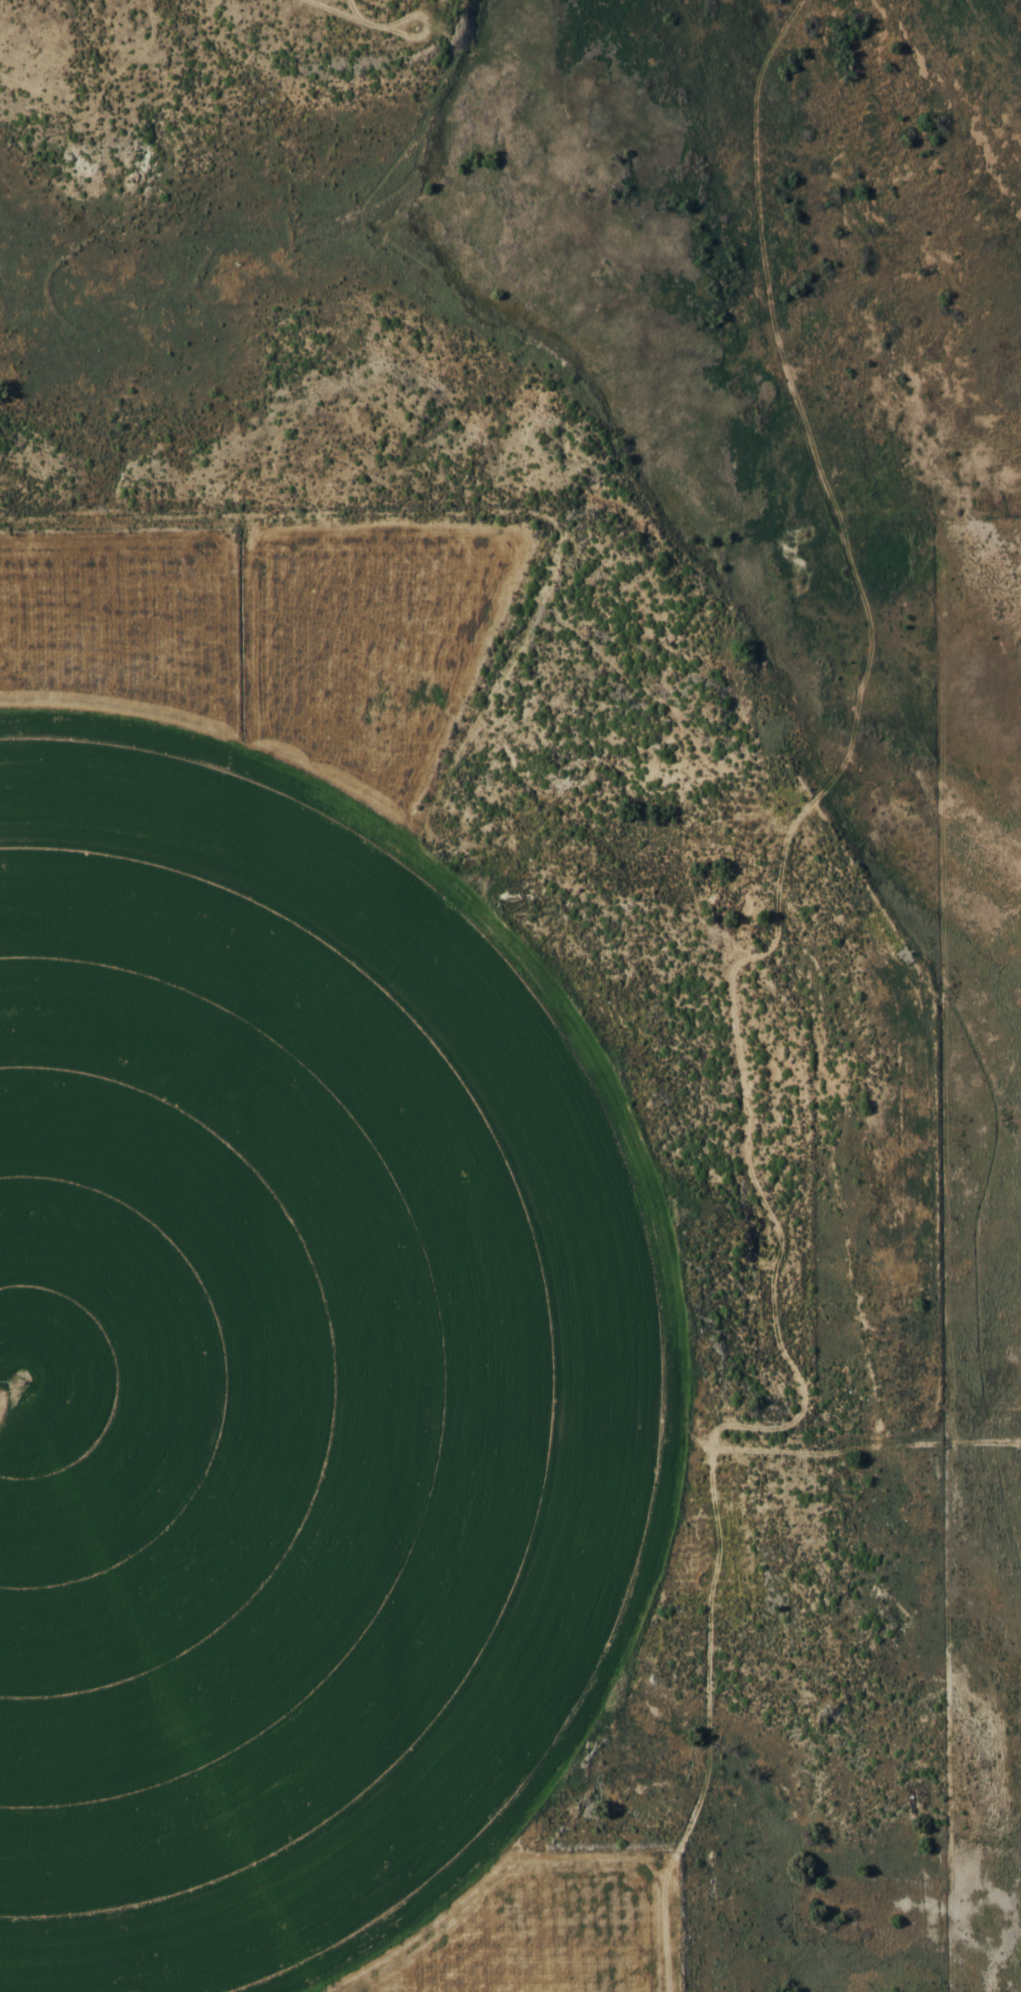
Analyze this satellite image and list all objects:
road: (712, 1729)

